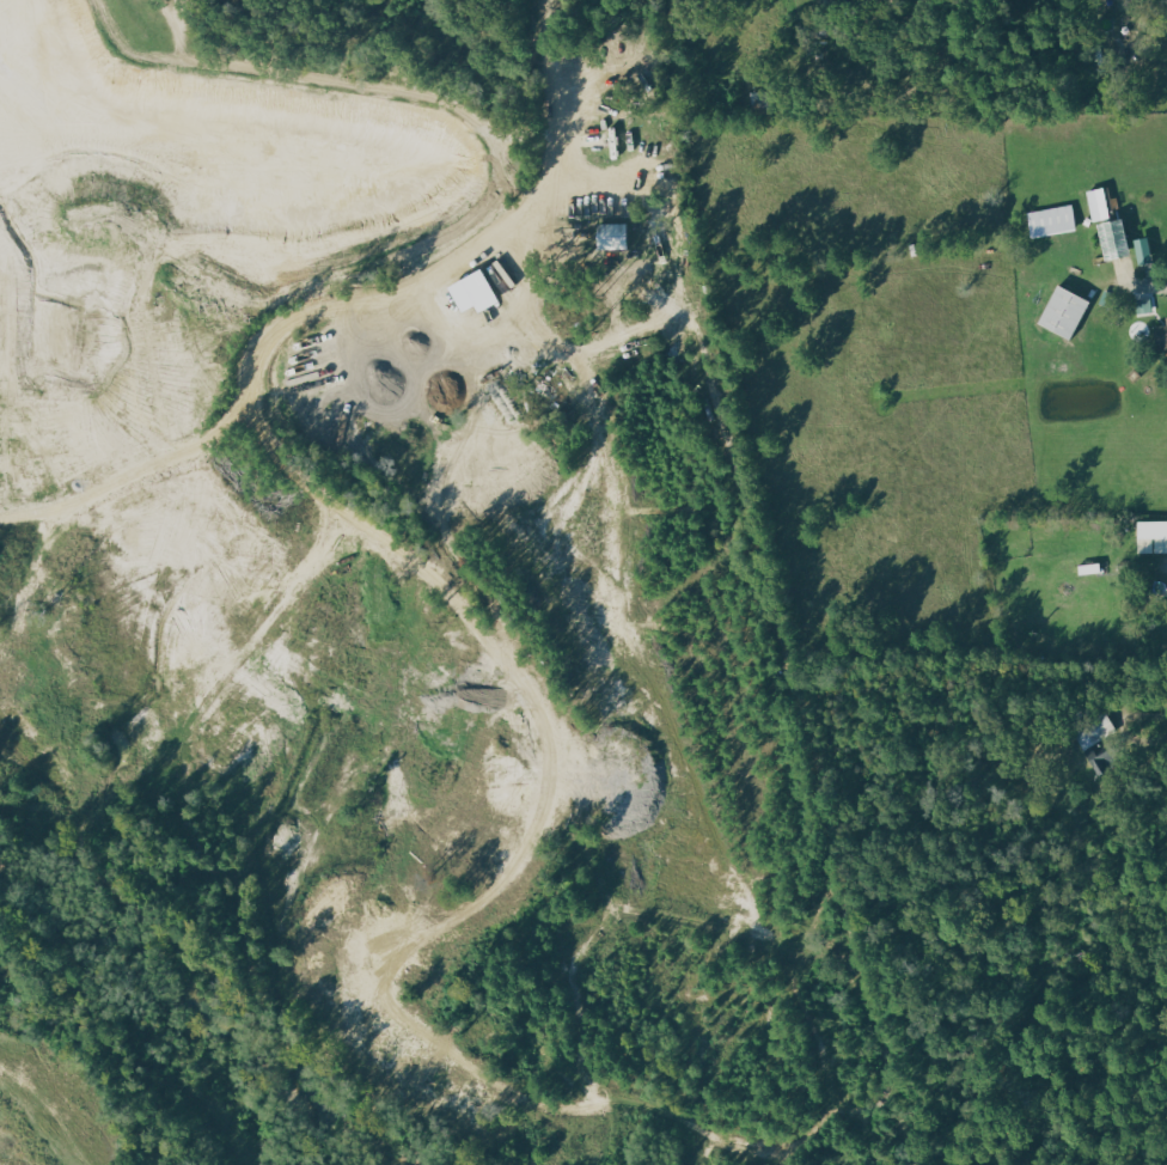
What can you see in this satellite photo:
road: (206, 176)
building: (1051, 221)
building: (619, 236)
building: (1110, 239)
building: (1141, 252)
road: (470, 257)
road: (1137, 285)
building: (1061, 313)
building: (1160, 340)
building: (1150, 536)
road: (1119, 727)
building: (1096, 731)
river: (197, 1006)
road: (51, 1104)

